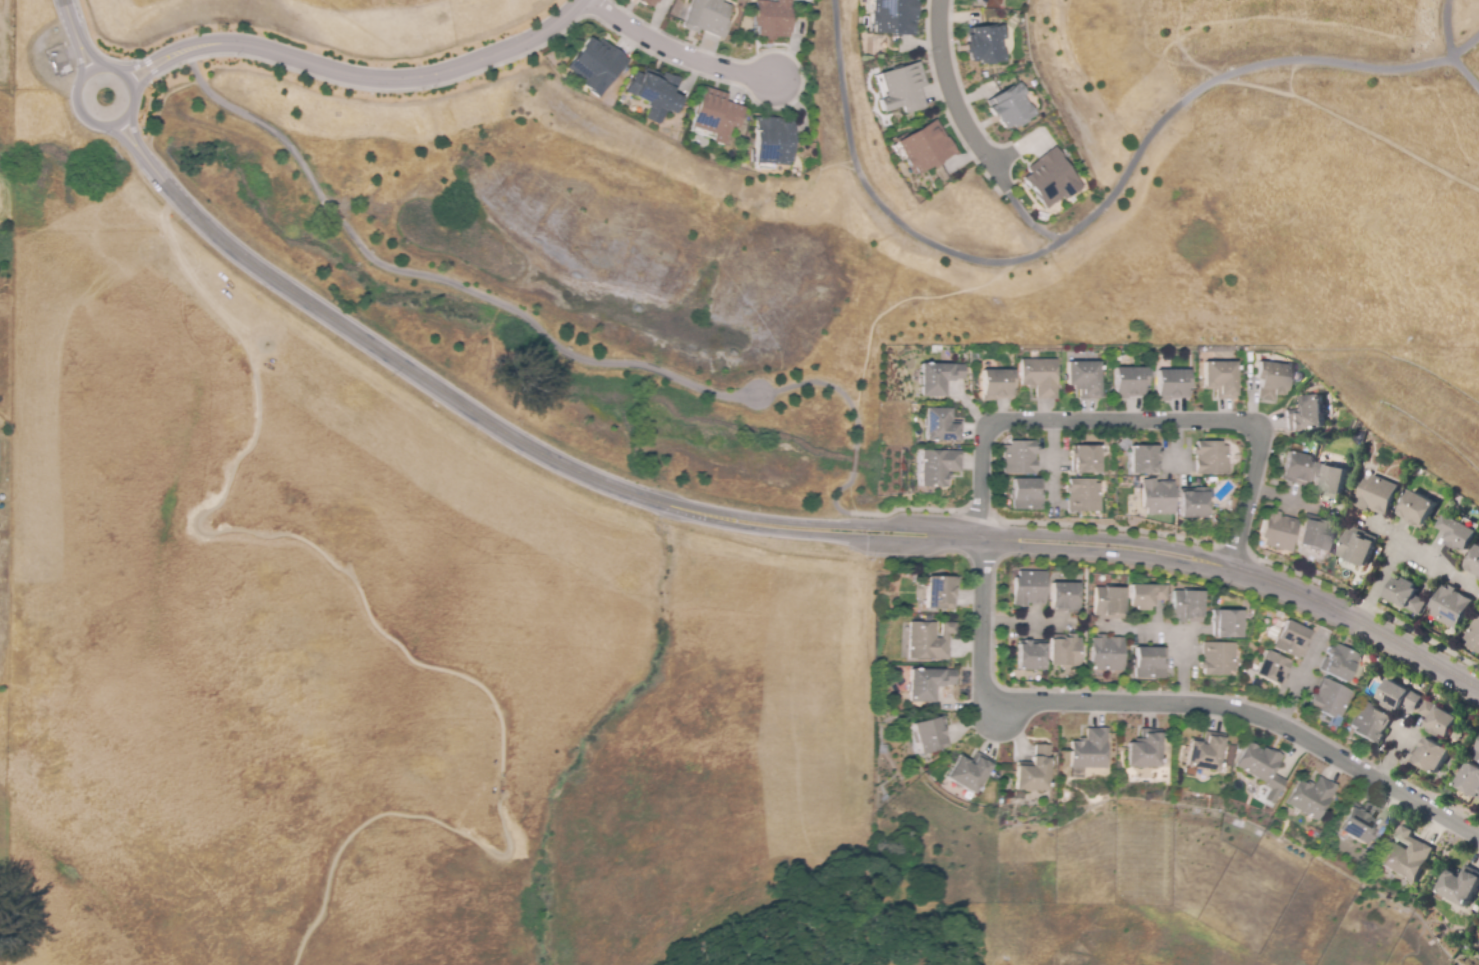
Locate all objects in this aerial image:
building: (641, 4)
building: (706, 18)
building: (774, 18)
building: (885, 19)
road: (77, 34)
building: (983, 45)
road: (1449, 49)
road: (677, 52)
road: (100, 66)
road: (148, 66)
building: (602, 66)
road: (172, 67)
road: (359, 77)
building: (897, 91)
building: (664, 96)
road: (958, 101)
building: (1011, 106)
building: (720, 116)
road: (1348, 120)
building: (777, 142)
building: (925, 148)
building: (1051, 177)
road: (1094, 213)
road: (1029, 223)
road: (943, 294)
road: (874, 319)
road: (381, 353)
road: (598, 362)
building: (1041, 377)
building: (938, 378)
building: (1084, 378)
building: (1221, 379)
building: (1273, 380)
building: (1130, 382)
building: (1173, 384)
building: (997, 385)
building: (1305, 414)
road: (1138, 421)
building: (939, 426)
building: (1019, 457)
building: (1212, 458)
building: (1085, 459)
building: (1144, 459)
building: (938, 467)
building: (1297, 468)
building: (1329, 480)
building: (1026, 494)
building: (1083, 495)
building: (1377, 495)
building: (1157, 497)
building: (1193, 505)
building: (1418, 510)
building: (1278, 532)
building: (1457, 533)
building: (1316, 534)
road: (1100, 545)
building: (1357, 547)
building: (1474, 564)
road: (1378, 581)
building: (1029, 588)
building: (940, 592)
building: (1407, 595)
building: (1145, 596)
building: (1064, 597)
road: (569, 603)
building: (1108, 603)
building: (1187, 606)
building: (1451, 607)
building: (1227, 624)
road: (370, 627)
building: (1474, 635)
building: (1292, 640)
building: (929, 641)
building: (1065, 650)
building: (1106, 653)
building: (1030, 656)
building: (1218, 658)
building: (1149, 663)
building: (1340, 663)
building: (1272, 668)
building: (928, 684)
building: (1399, 696)
building: (1330, 699)
road: (1165, 705)
building: (1438, 719)
building: (1370, 723)
building: (932, 735)
building: (1090, 750)
building: (1145, 750)
building: (1206, 752)
building: (1430, 755)
building: (1477, 755)
building: (1262, 769)
building: (1034, 771)
building: (970, 772)
building: (1470, 779)
building: (1311, 797)
building: (1358, 822)
building: (1407, 857)
building: (1460, 885)
building: (1475, 908)
park: (1048, 936)
building: (1478, 957)

